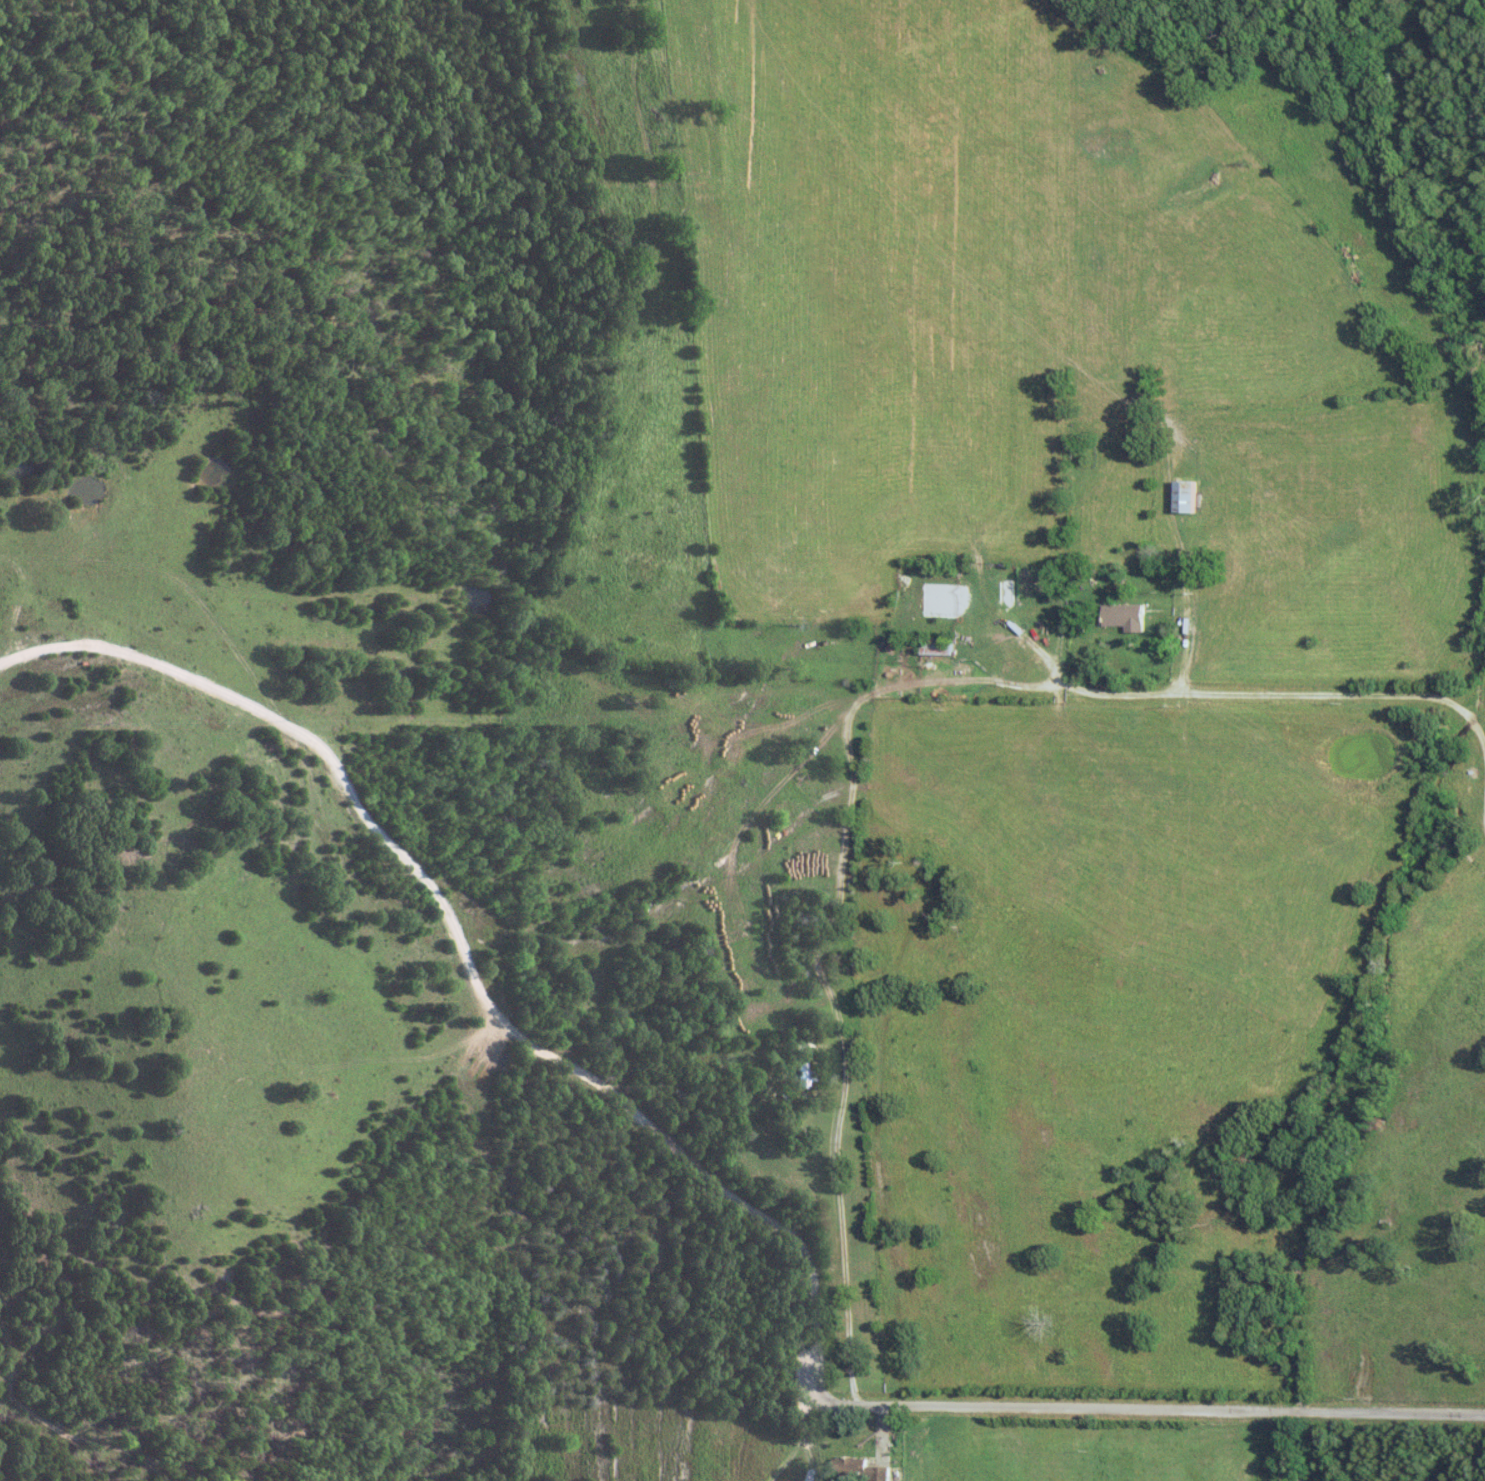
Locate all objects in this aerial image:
building: (1188, 498)
building: (1126, 616)
road: (1284, 697)
road: (465, 961)
road: (1154, 1409)
building: (867, 1470)

